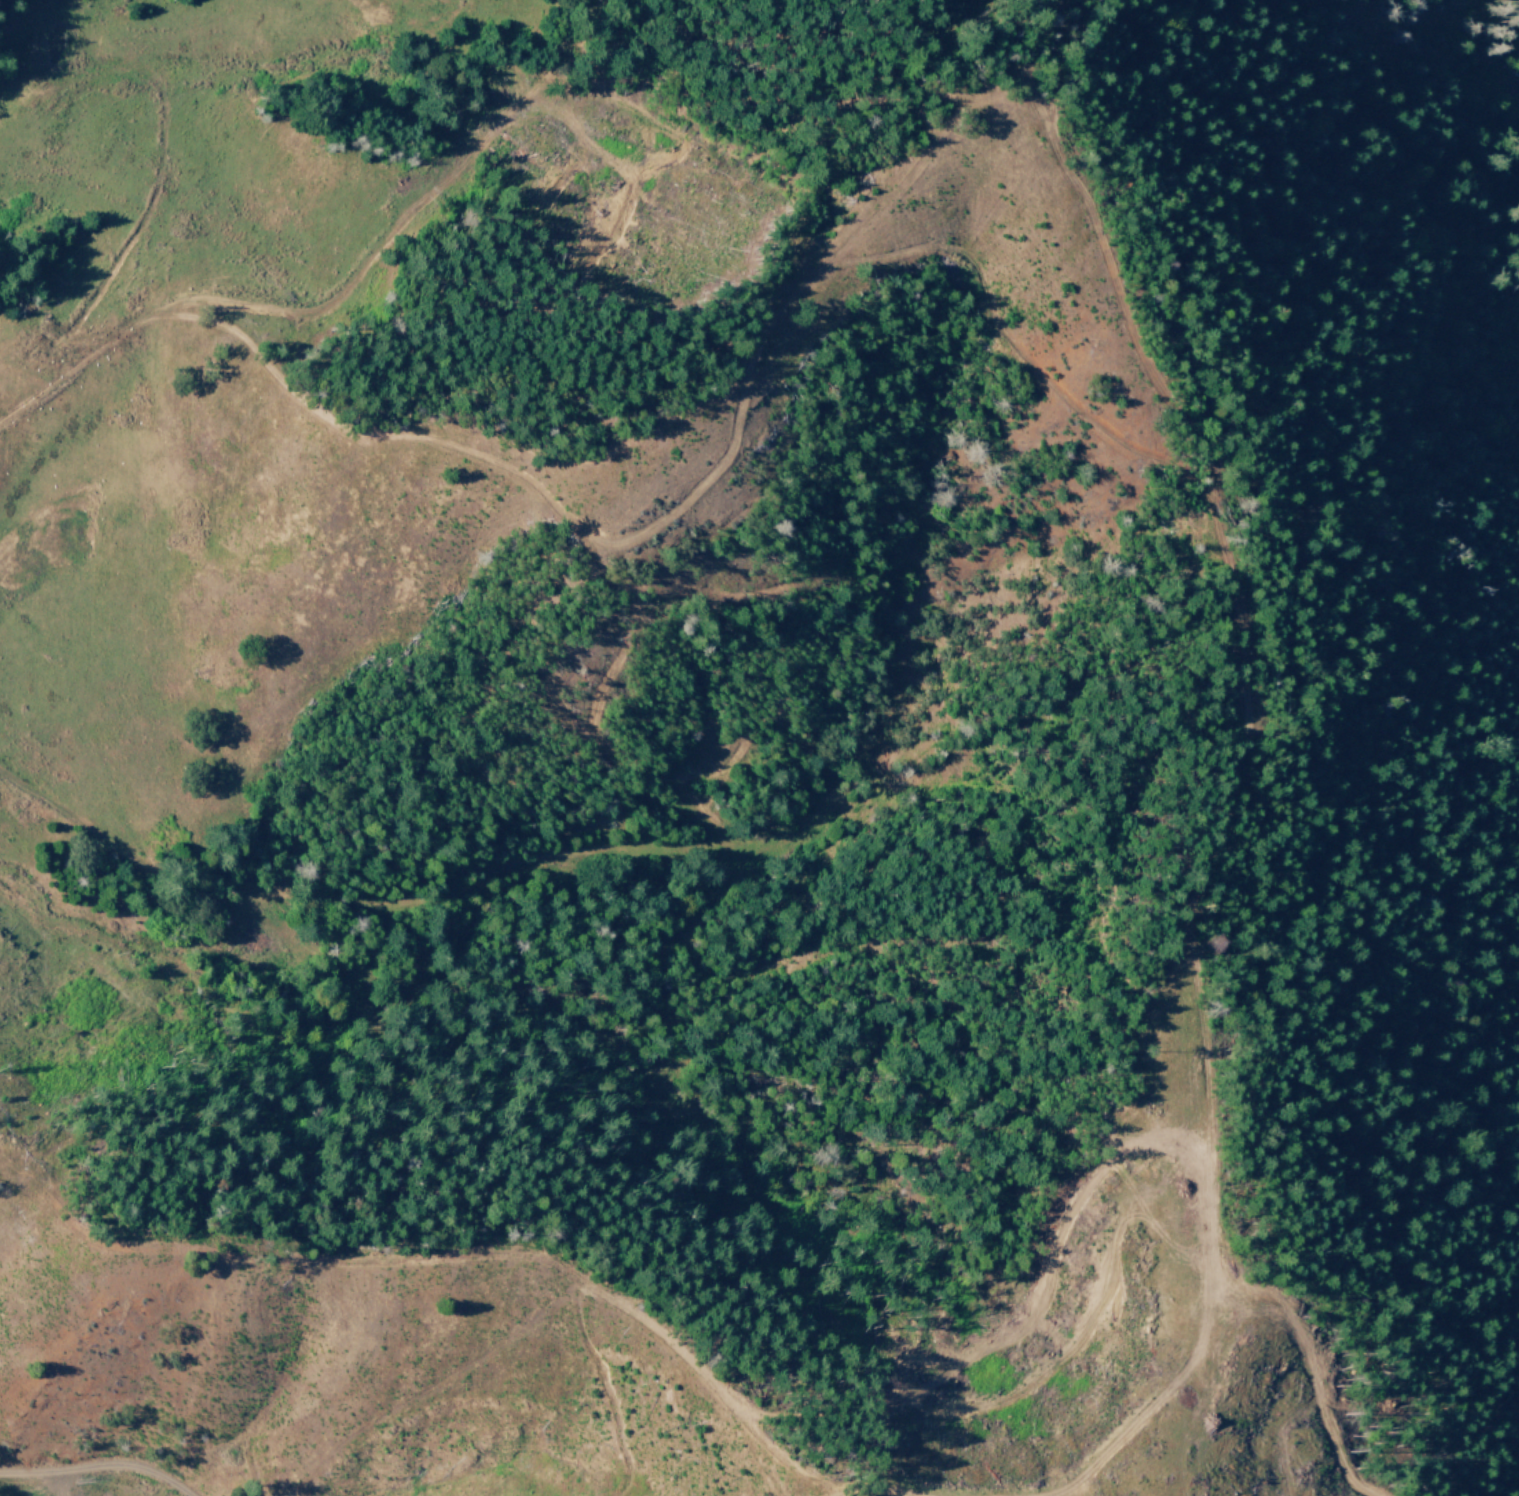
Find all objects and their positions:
road: (98, 1470)

